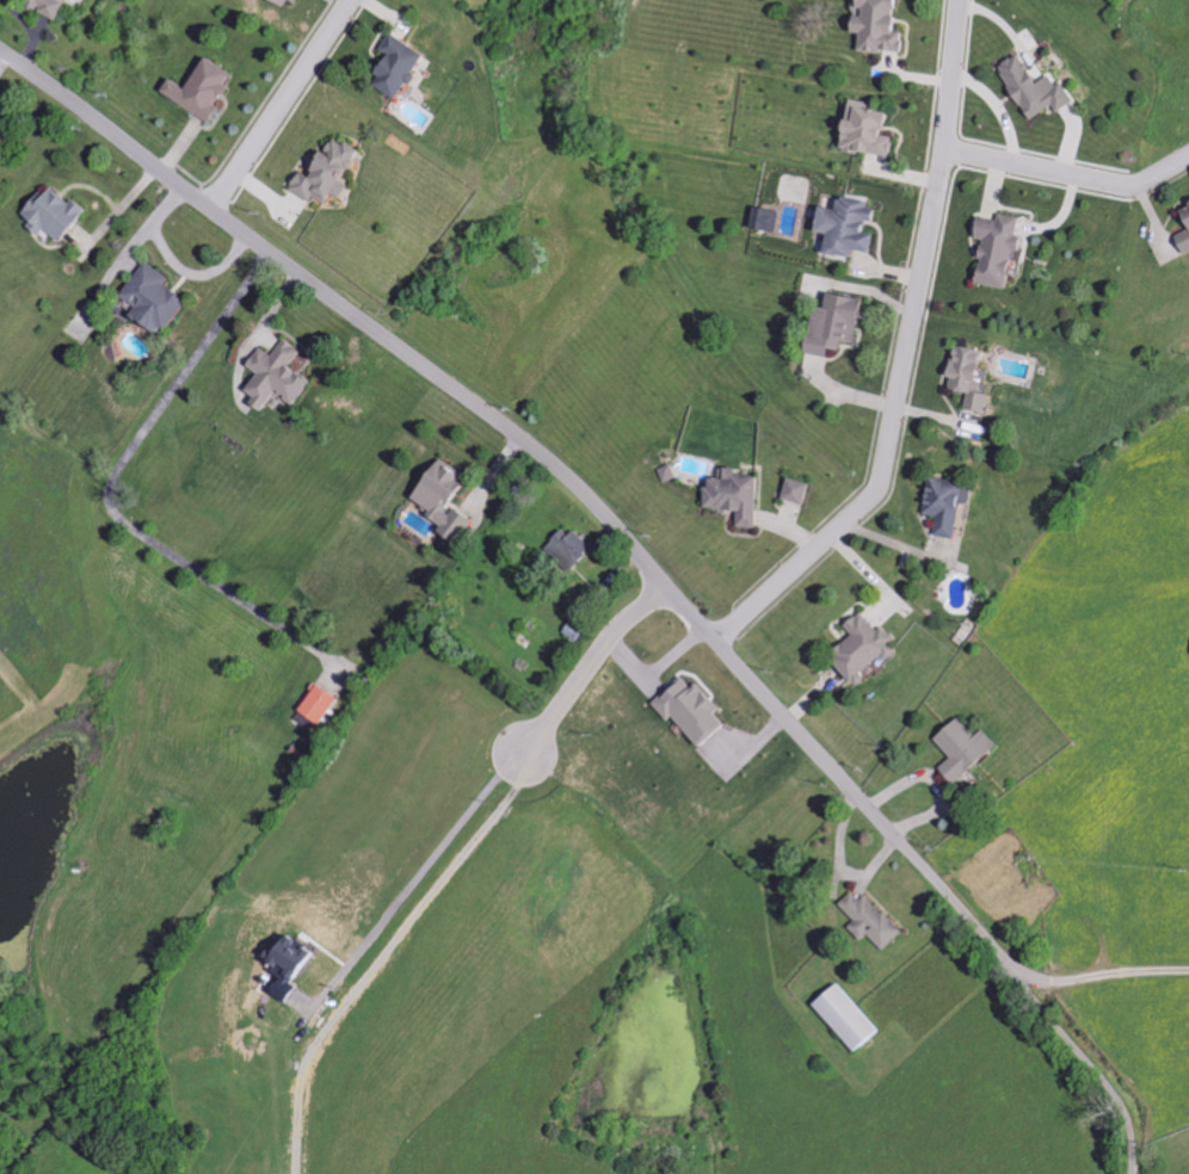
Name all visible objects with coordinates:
building: (296, 2)
building: (55, 6)
building: (886, 26)
building: (405, 67)
building: (1030, 87)
building: (208, 89)
road: (281, 103)
building: (860, 129)
building: (7, 141)
road: (1068, 171)
building: (334, 174)
building: (62, 215)
building: (762, 218)
building: (1183, 220)
building: (839, 227)
building: (991, 248)
building: (162, 298)
building: (827, 323)
road: (901, 354)
building: (283, 376)
building: (963, 376)
road: (562, 472)
building: (791, 490)
building: (728, 495)
building: (437, 499)
building: (942, 503)
building: (565, 548)
building: (857, 645)
road: (591, 662)
road: (655, 669)
building: (315, 704)
building: (688, 711)
building: (959, 748)
road: (420, 873)
building: (868, 920)
building: (284, 960)
road: (1116, 969)
building: (842, 1018)
road: (1093, 1065)
road: (1133, 1172)

